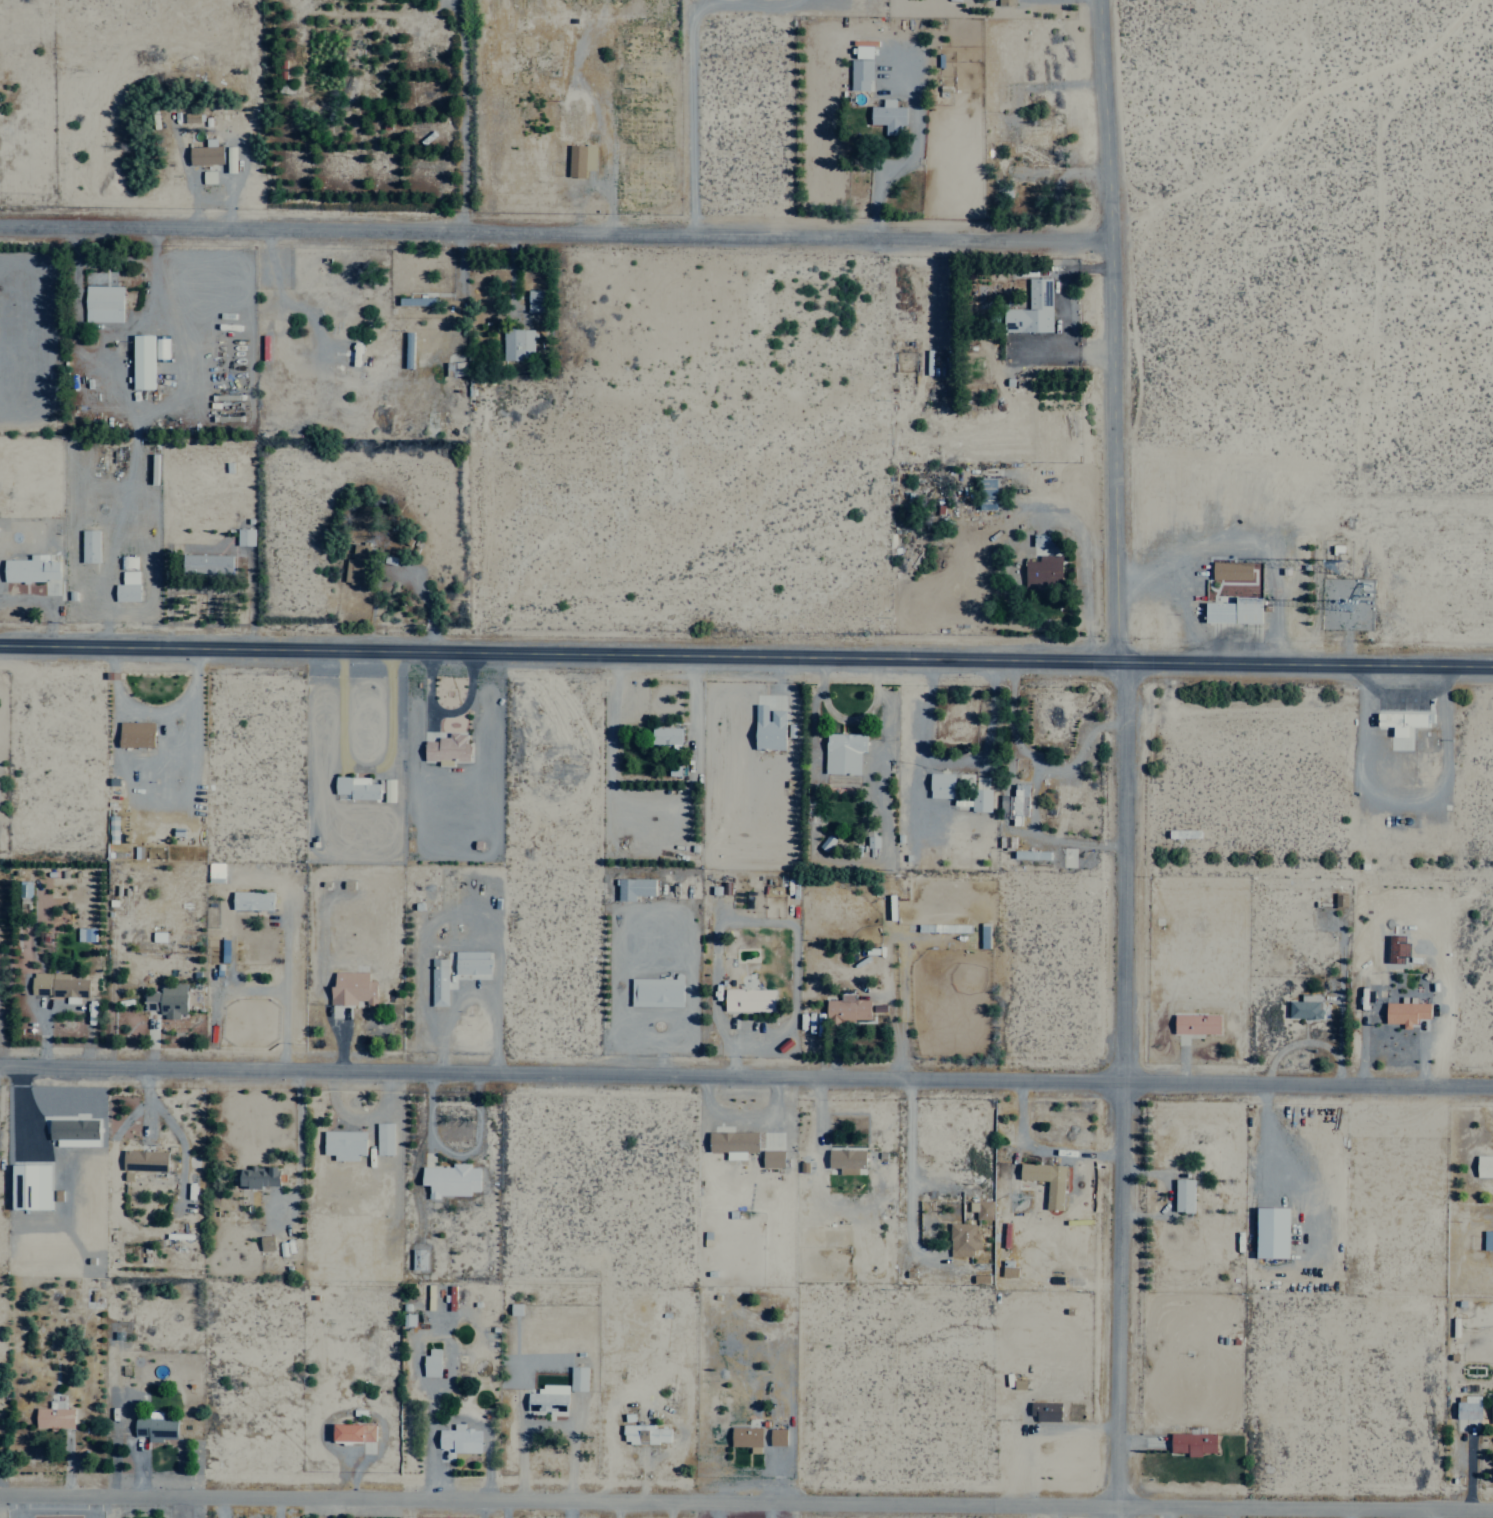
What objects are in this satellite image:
building: (1004, 2)
building: (859, 73)
building: (189, 115)
road: (686, 115)
building: (886, 116)
building: (205, 158)
building: (228, 159)
building: (579, 159)
road: (554, 231)
building: (415, 300)
building: (532, 301)
building: (101, 303)
building: (1030, 309)
park: (1326, 322)
road: (1109, 329)
building: (516, 344)
building: (140, 361)
building: (985, 493)
building: (243, 537)
building: (88, 546)
building: (1043, 546)
building: (124, 562)
building: (207, 563)
building: (355, 565)
building: (30, 568)
building: (1042, 570)
building: (1229, 570)
building: (126, 587)
building: (1233, 610)
road: (746, 652)
building: (1401, 721)
building: (767, 728)
building: (134, 734)
building: (664, 735)
building: (445, 749)
building: (842, 753)
building: (940, 785)
building: (355, 787)
building: (386, 790)
building: (1018, 799)
building: (979, 800)
building: (1182, 833)
building: (825, 842)
building: (871, 845)
building: (633, 888)
building: (250, 900)
building: (1339, 900)
building: (83, 934)
building: (223, 950)
building: (470, 962)
building: (437, 982)
building: (58, 986)
building: (351, 989)
building: (655, 992)
building: (165, 1000)
building: (747, 1000)
building: (1305, 1007)
building: (846, 1008)
building: (1404, 1012)
building: (1195, 1024)
road: (746, 1073)
road: (1121, 1089)
building: (72, 1132)
building: (383, 1139)
building: (731, 1143)
building: (343, 1144)
building: (771, 1158)
building: (845, 1160)
building: (142, 1161)
building: (1483, 1166)
building: (256, 1177)
building: (448, 1180)
building: (191, 1184)
building: (28, 1187)
building: (1053, 1195)
building: (1182, 1196)
building: (980, 1209)
building: (1270, 1233)
building: (961, 1240)
building: (1487, 1240)
building: (265, 1243)
building: (417, 1260)
building: (1035, 1260)
building: (1008, 1271)
building: (514, 1309)
building: (430, 1362)
building: (576, 1378)
building: (545, 1402)
building: (1491, 1408)
building: (1043, 1411)
building: (1466, 1413)
building: (52, 1417)
building: (154, 1429)
building: (351, 1433)
building: (644, 1434)
building: (776, 1437)
building: (745, 1438)
building: (457, 1439)
building: (1191, 1443)
road: (746, 1499)

